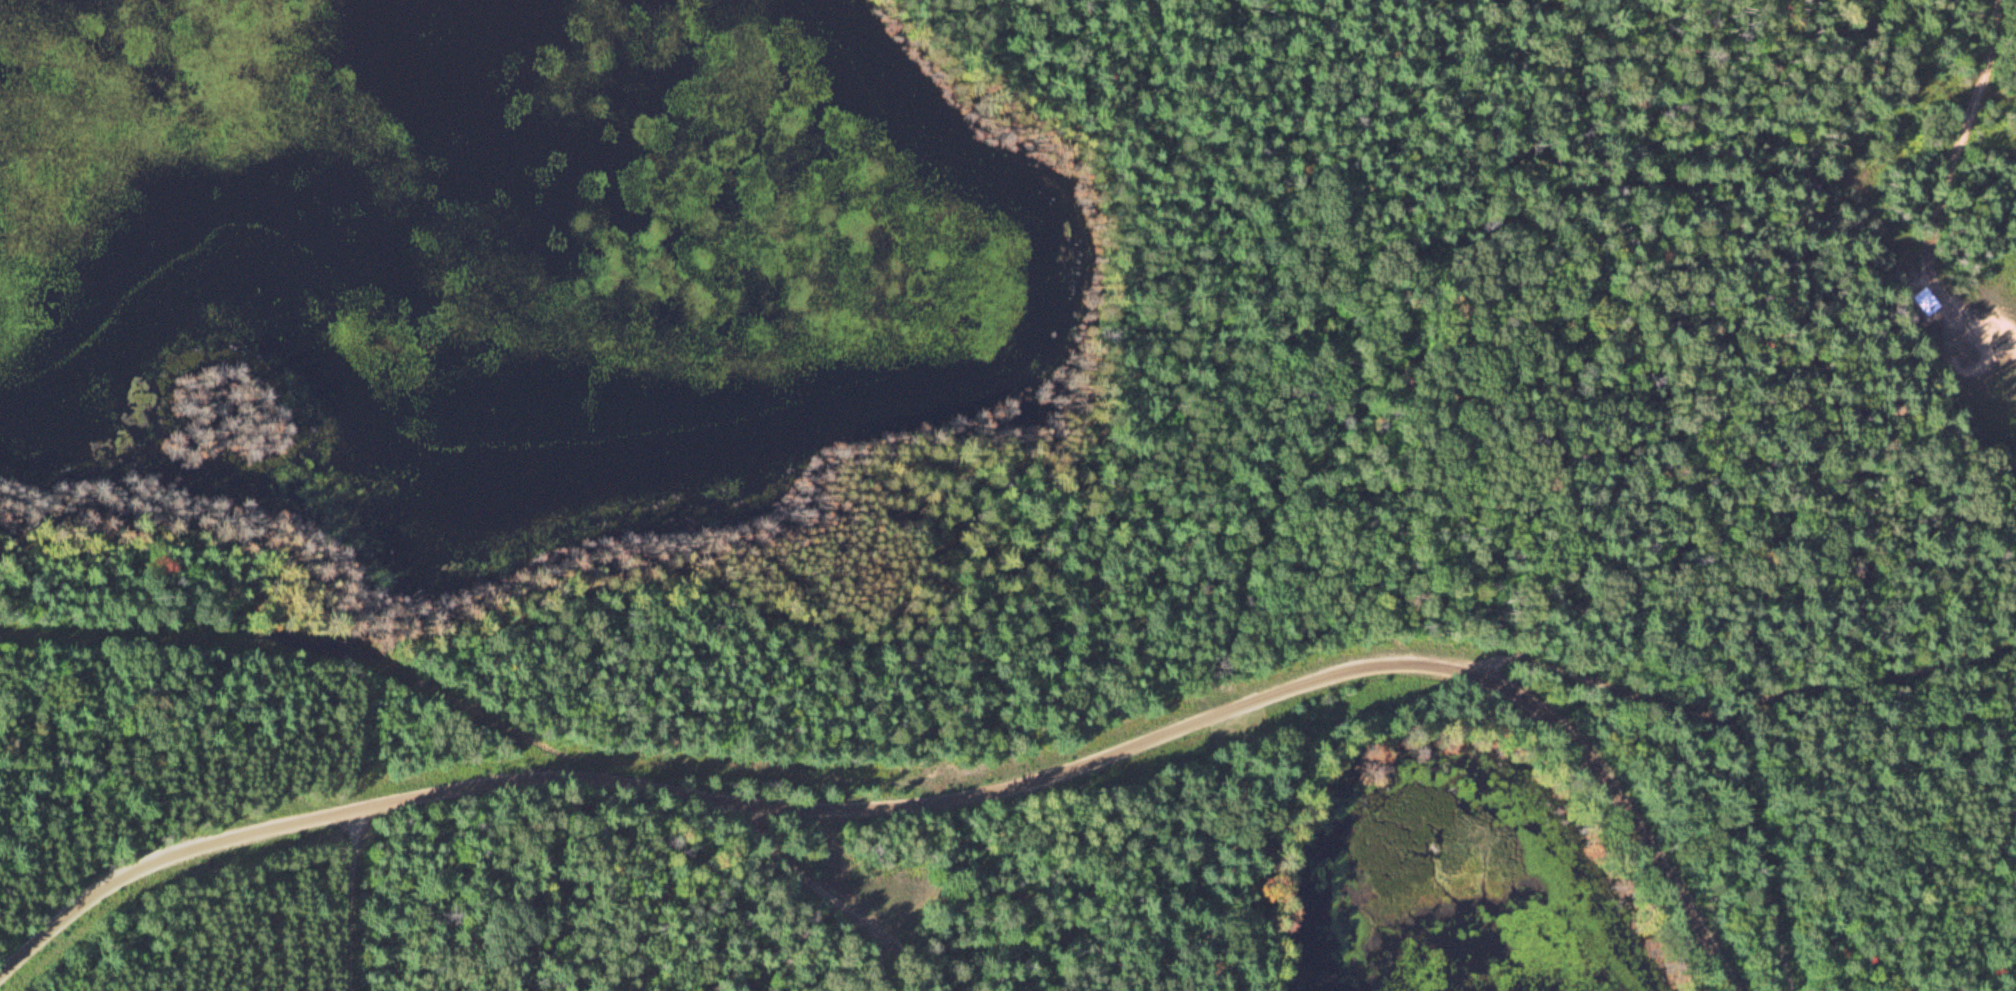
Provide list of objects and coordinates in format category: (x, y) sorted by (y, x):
road: (1948, 162)
building: (1924, 301)
petroleum well: (1989, 335)
road: (1738, 703)
road: (934, 808)
road: (836, 902)
road: (349, 904)

